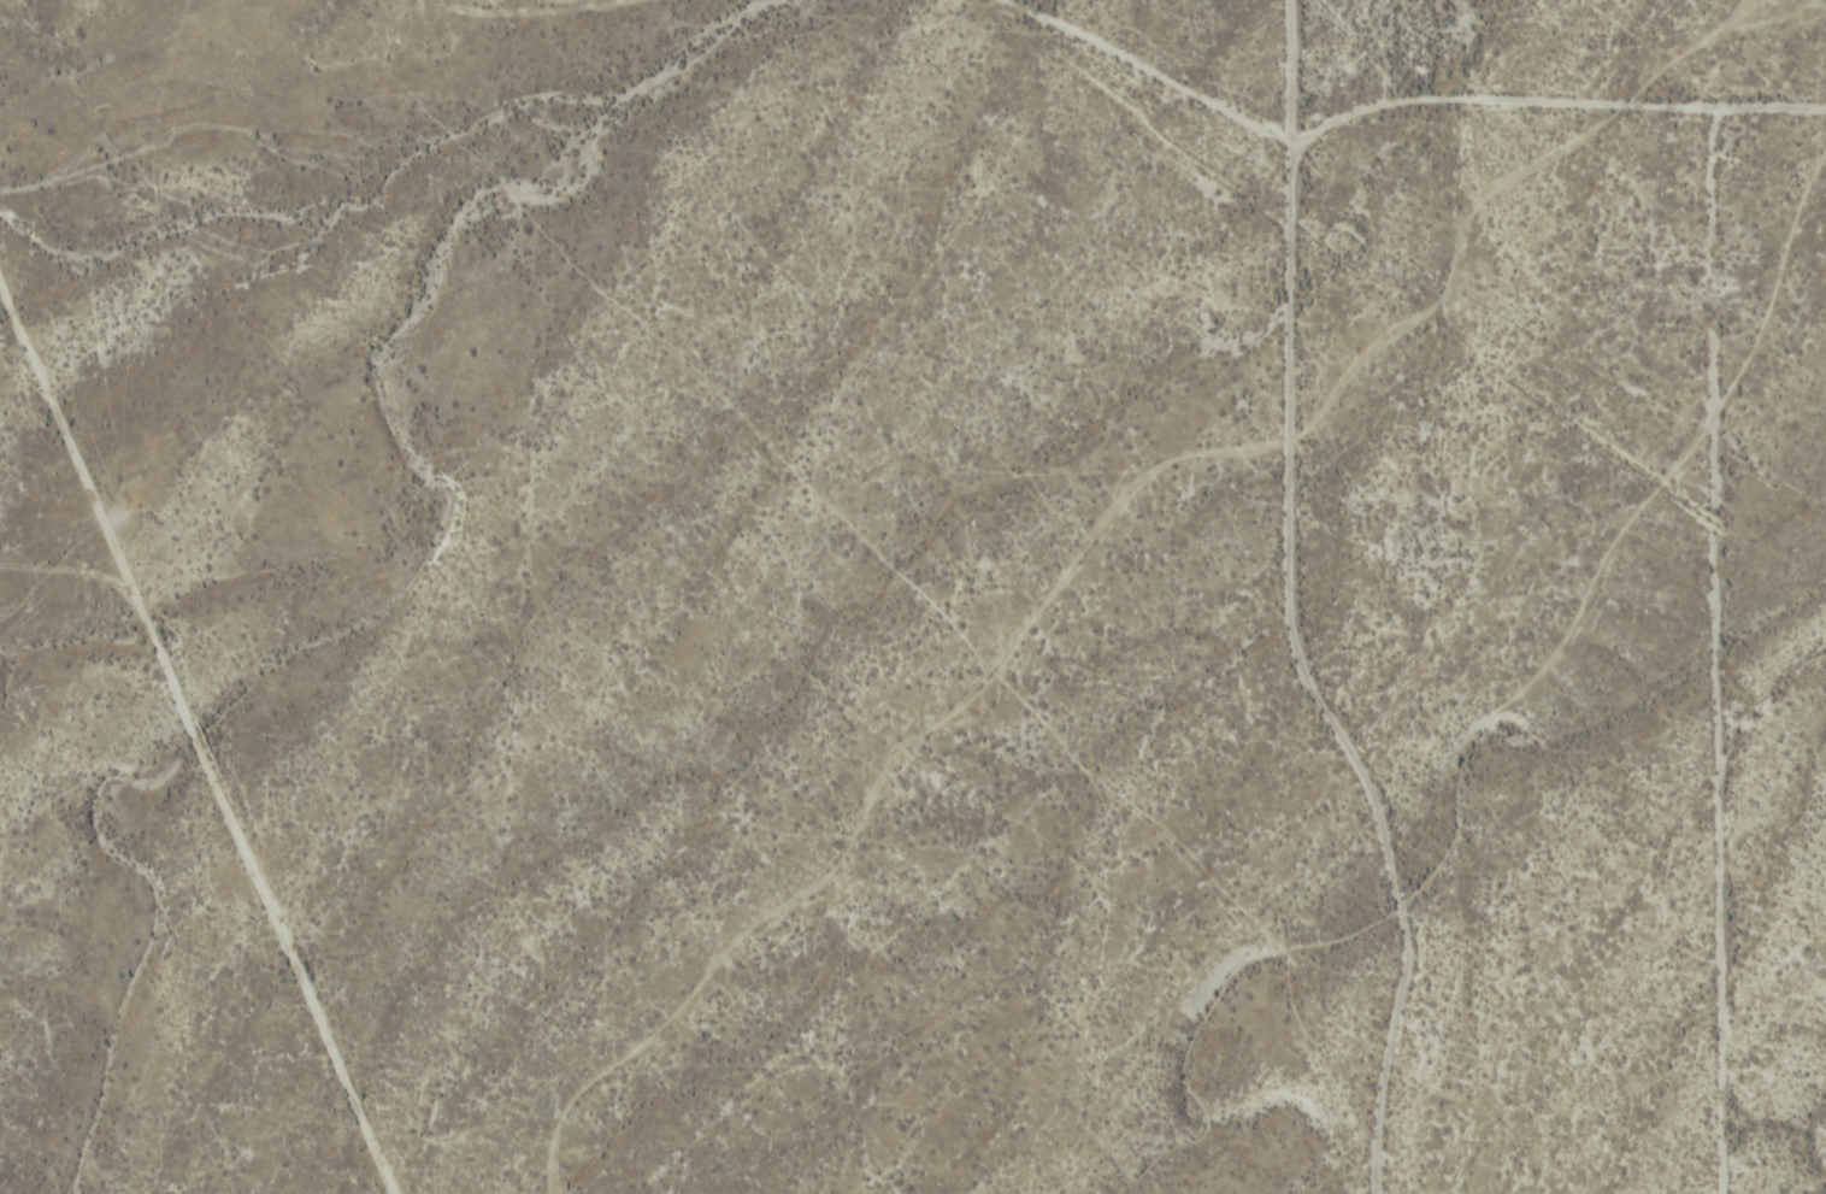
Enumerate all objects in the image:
road: (1553, 141)
road: (1288, 605)

